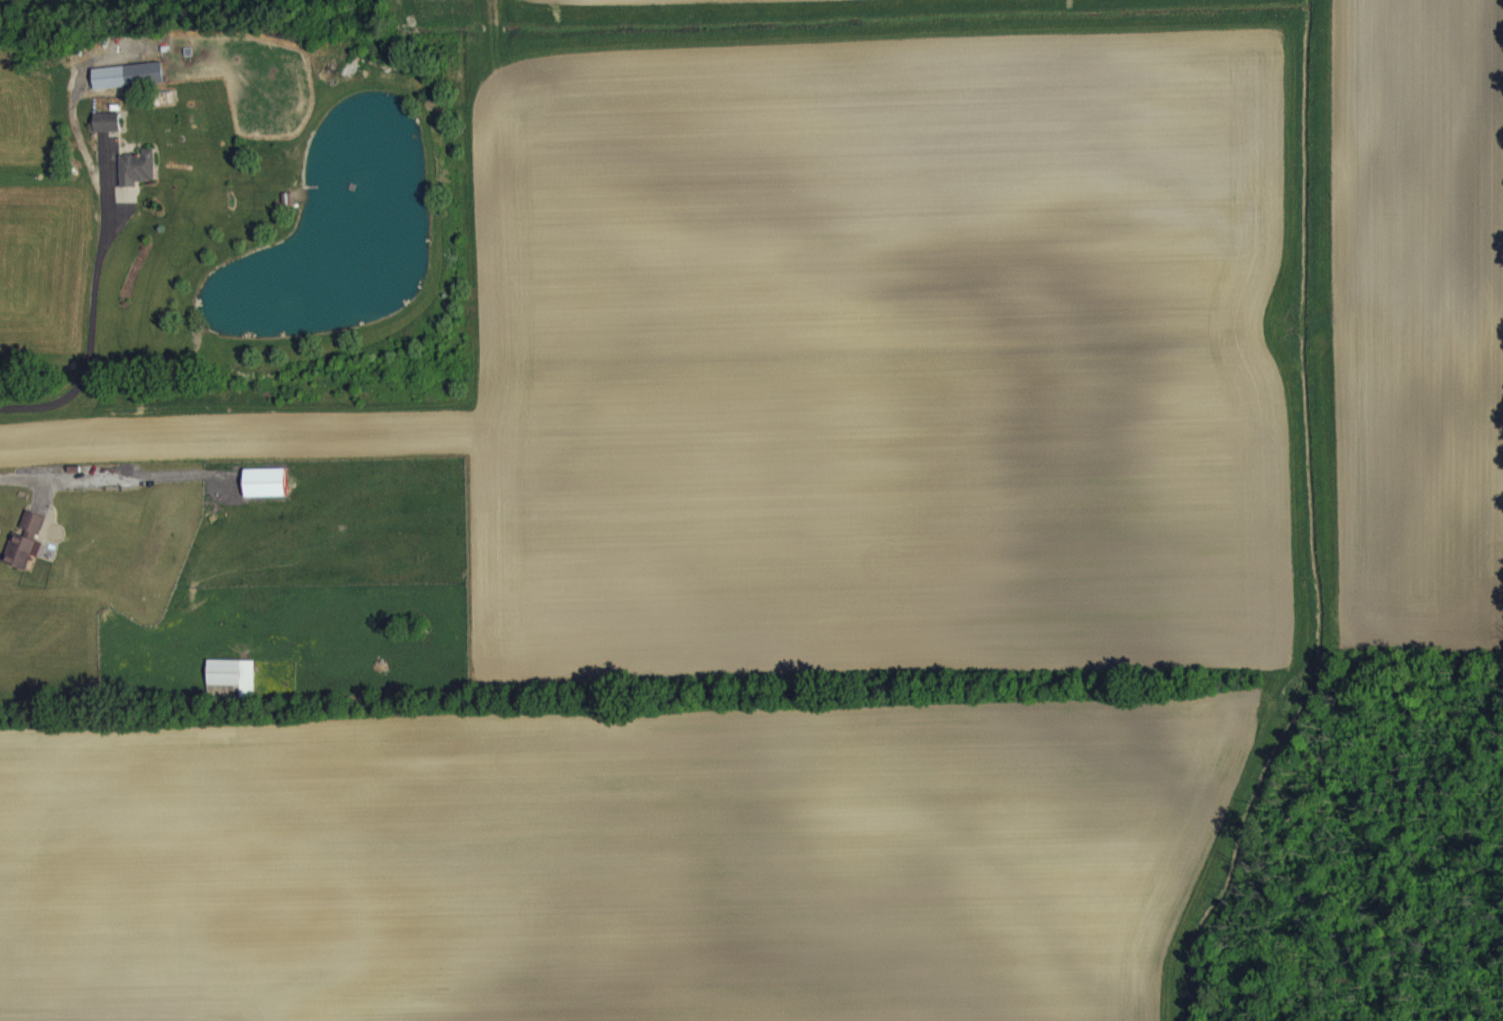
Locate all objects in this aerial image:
building: (128, 73)
building: (128, 86)
building: (108, 120)
building: (108, 133)
building: (137, 165)
road: (91, 307)
road: (112, 473)
building: (265, 480)
building: (25, 538)
building: (19, 561)
building: (233, 672)

